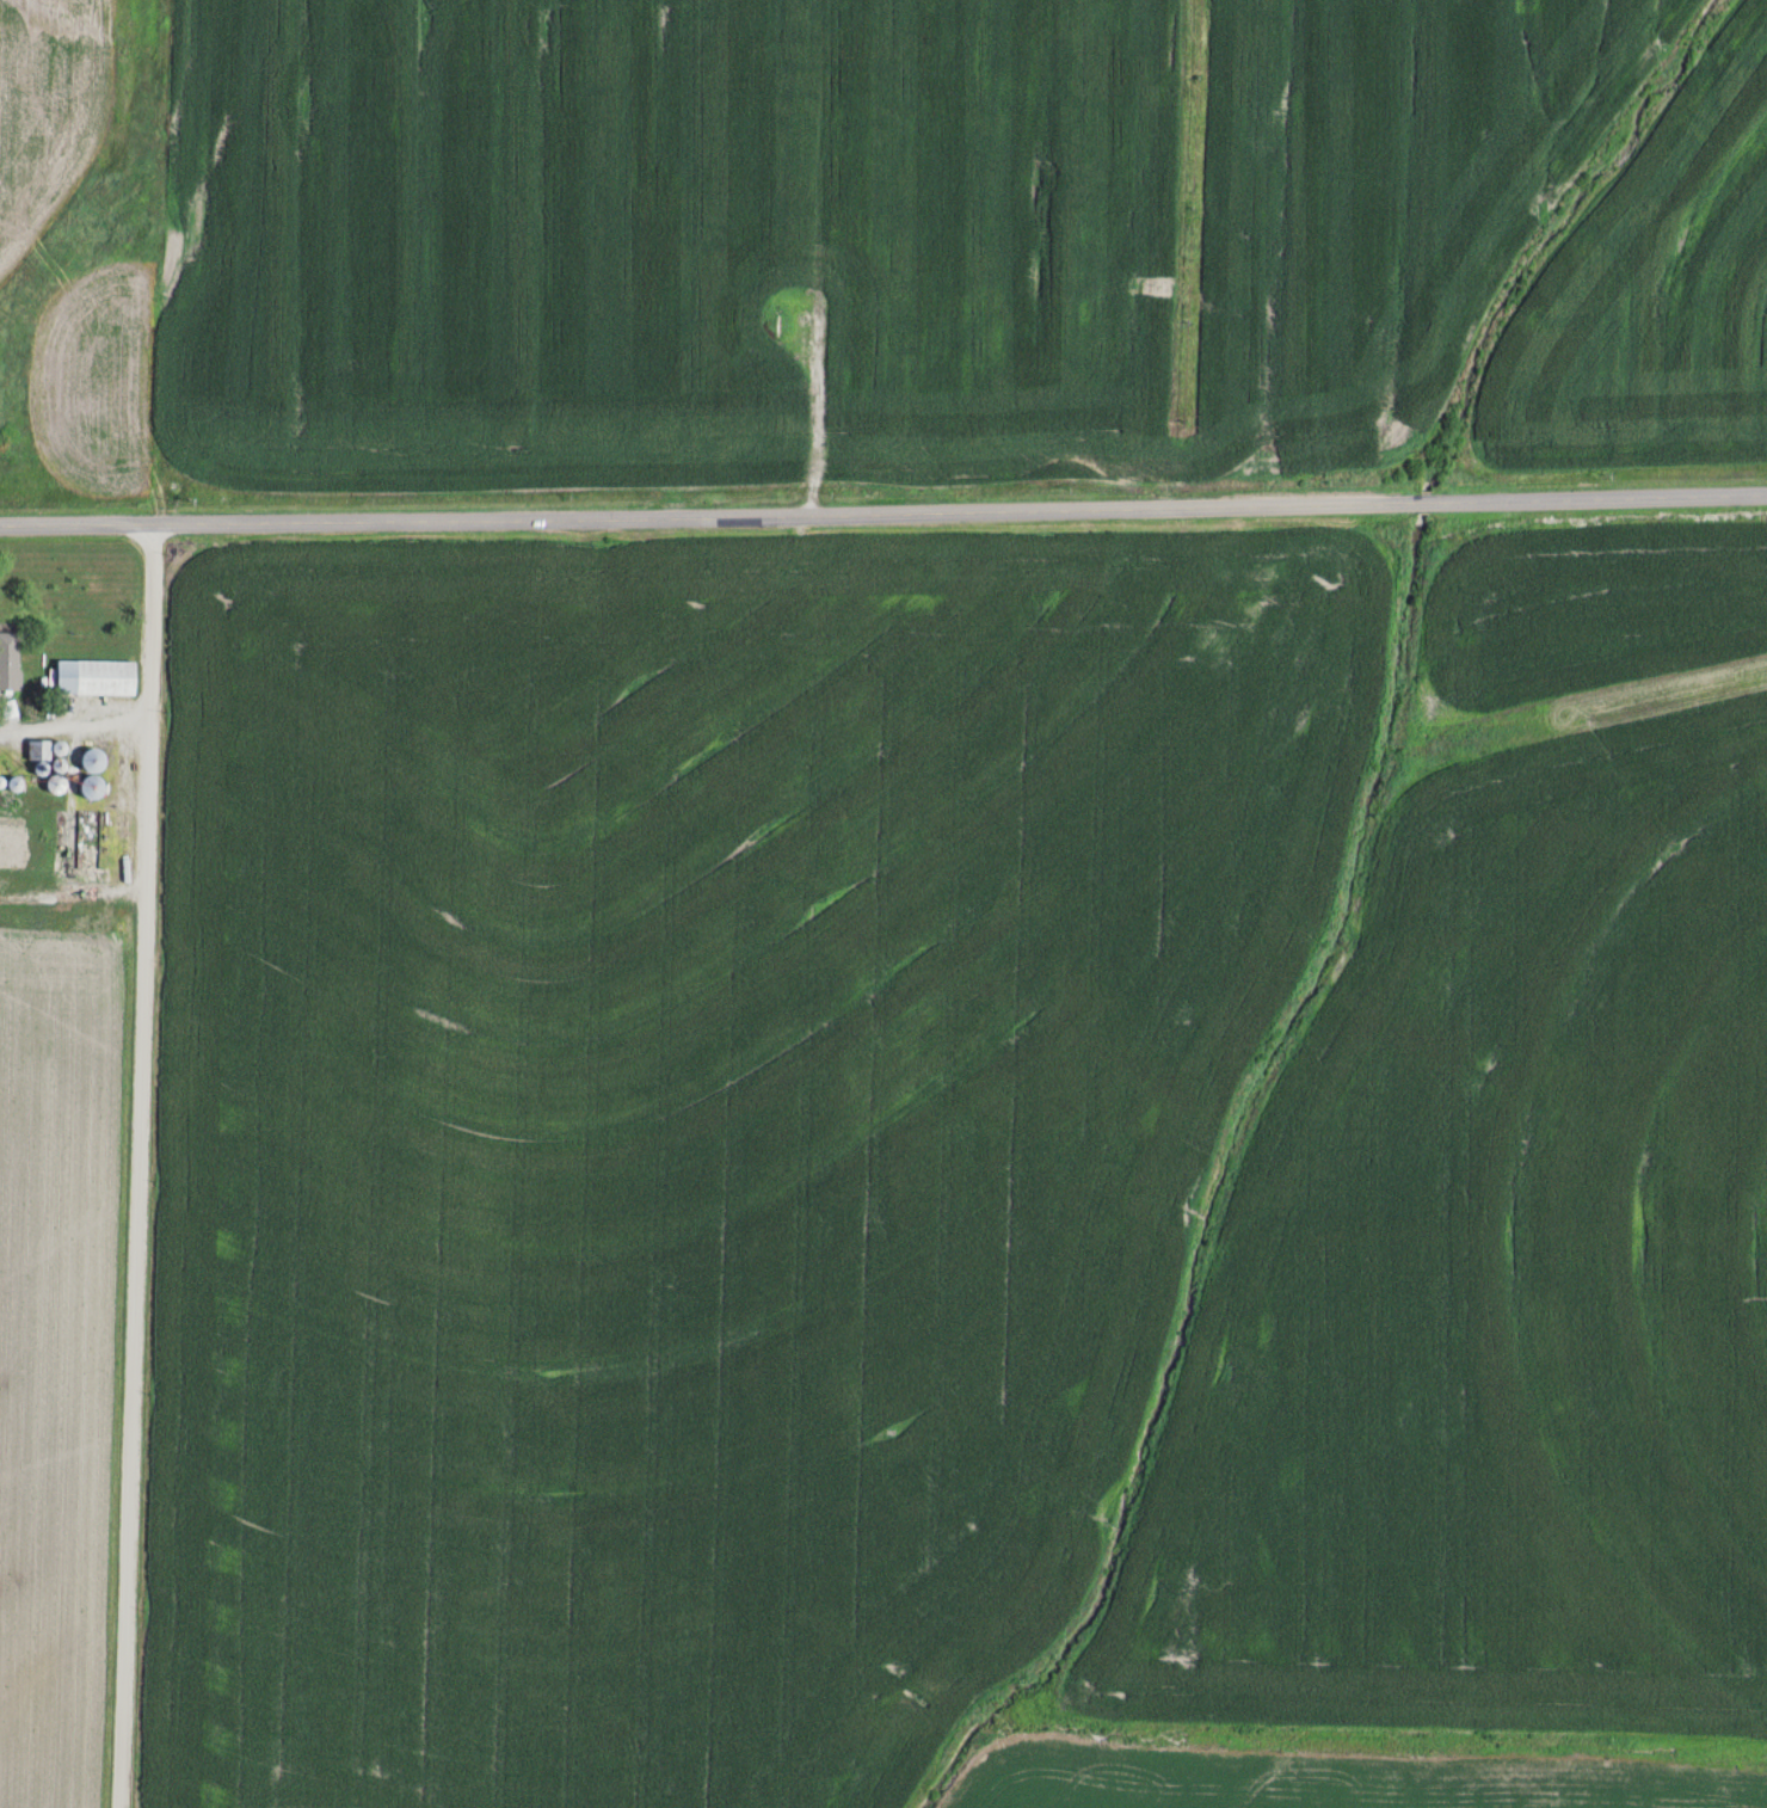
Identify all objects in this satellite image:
road: (153, 263)
road: (818, 417)
road: (883, 514)
building: (10, 658)
building: (97, 676)
road: (74, 733)
building: (94, 773)
road: (73, 894)
road: (137, 1167)

